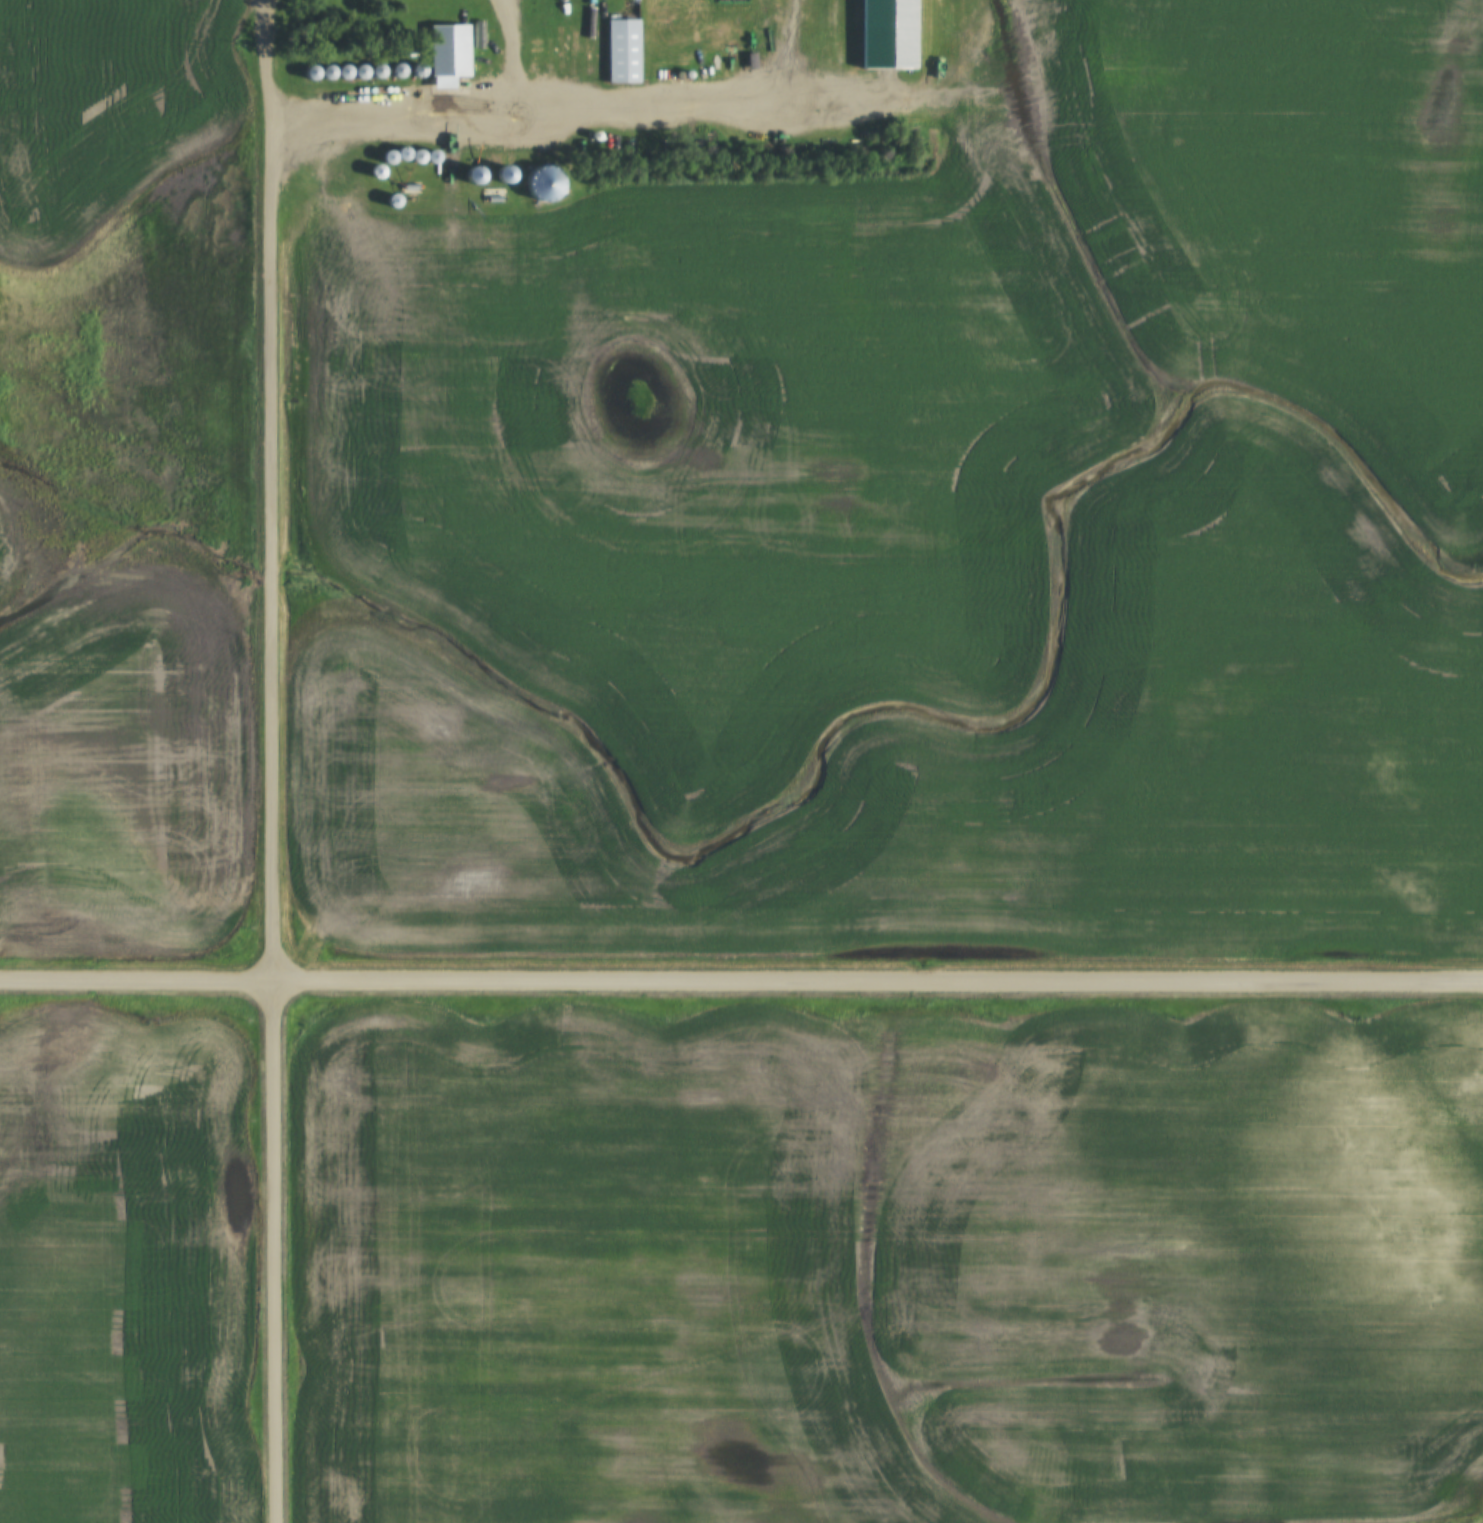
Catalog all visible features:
building: (450, 49)
building: (623, 51)
road: (434, 103)
building: (476, 174)
building: (506, 174)
building: (543, 182)
road: (273, 490)
road: (741, 983)
road: (276, 1252)

